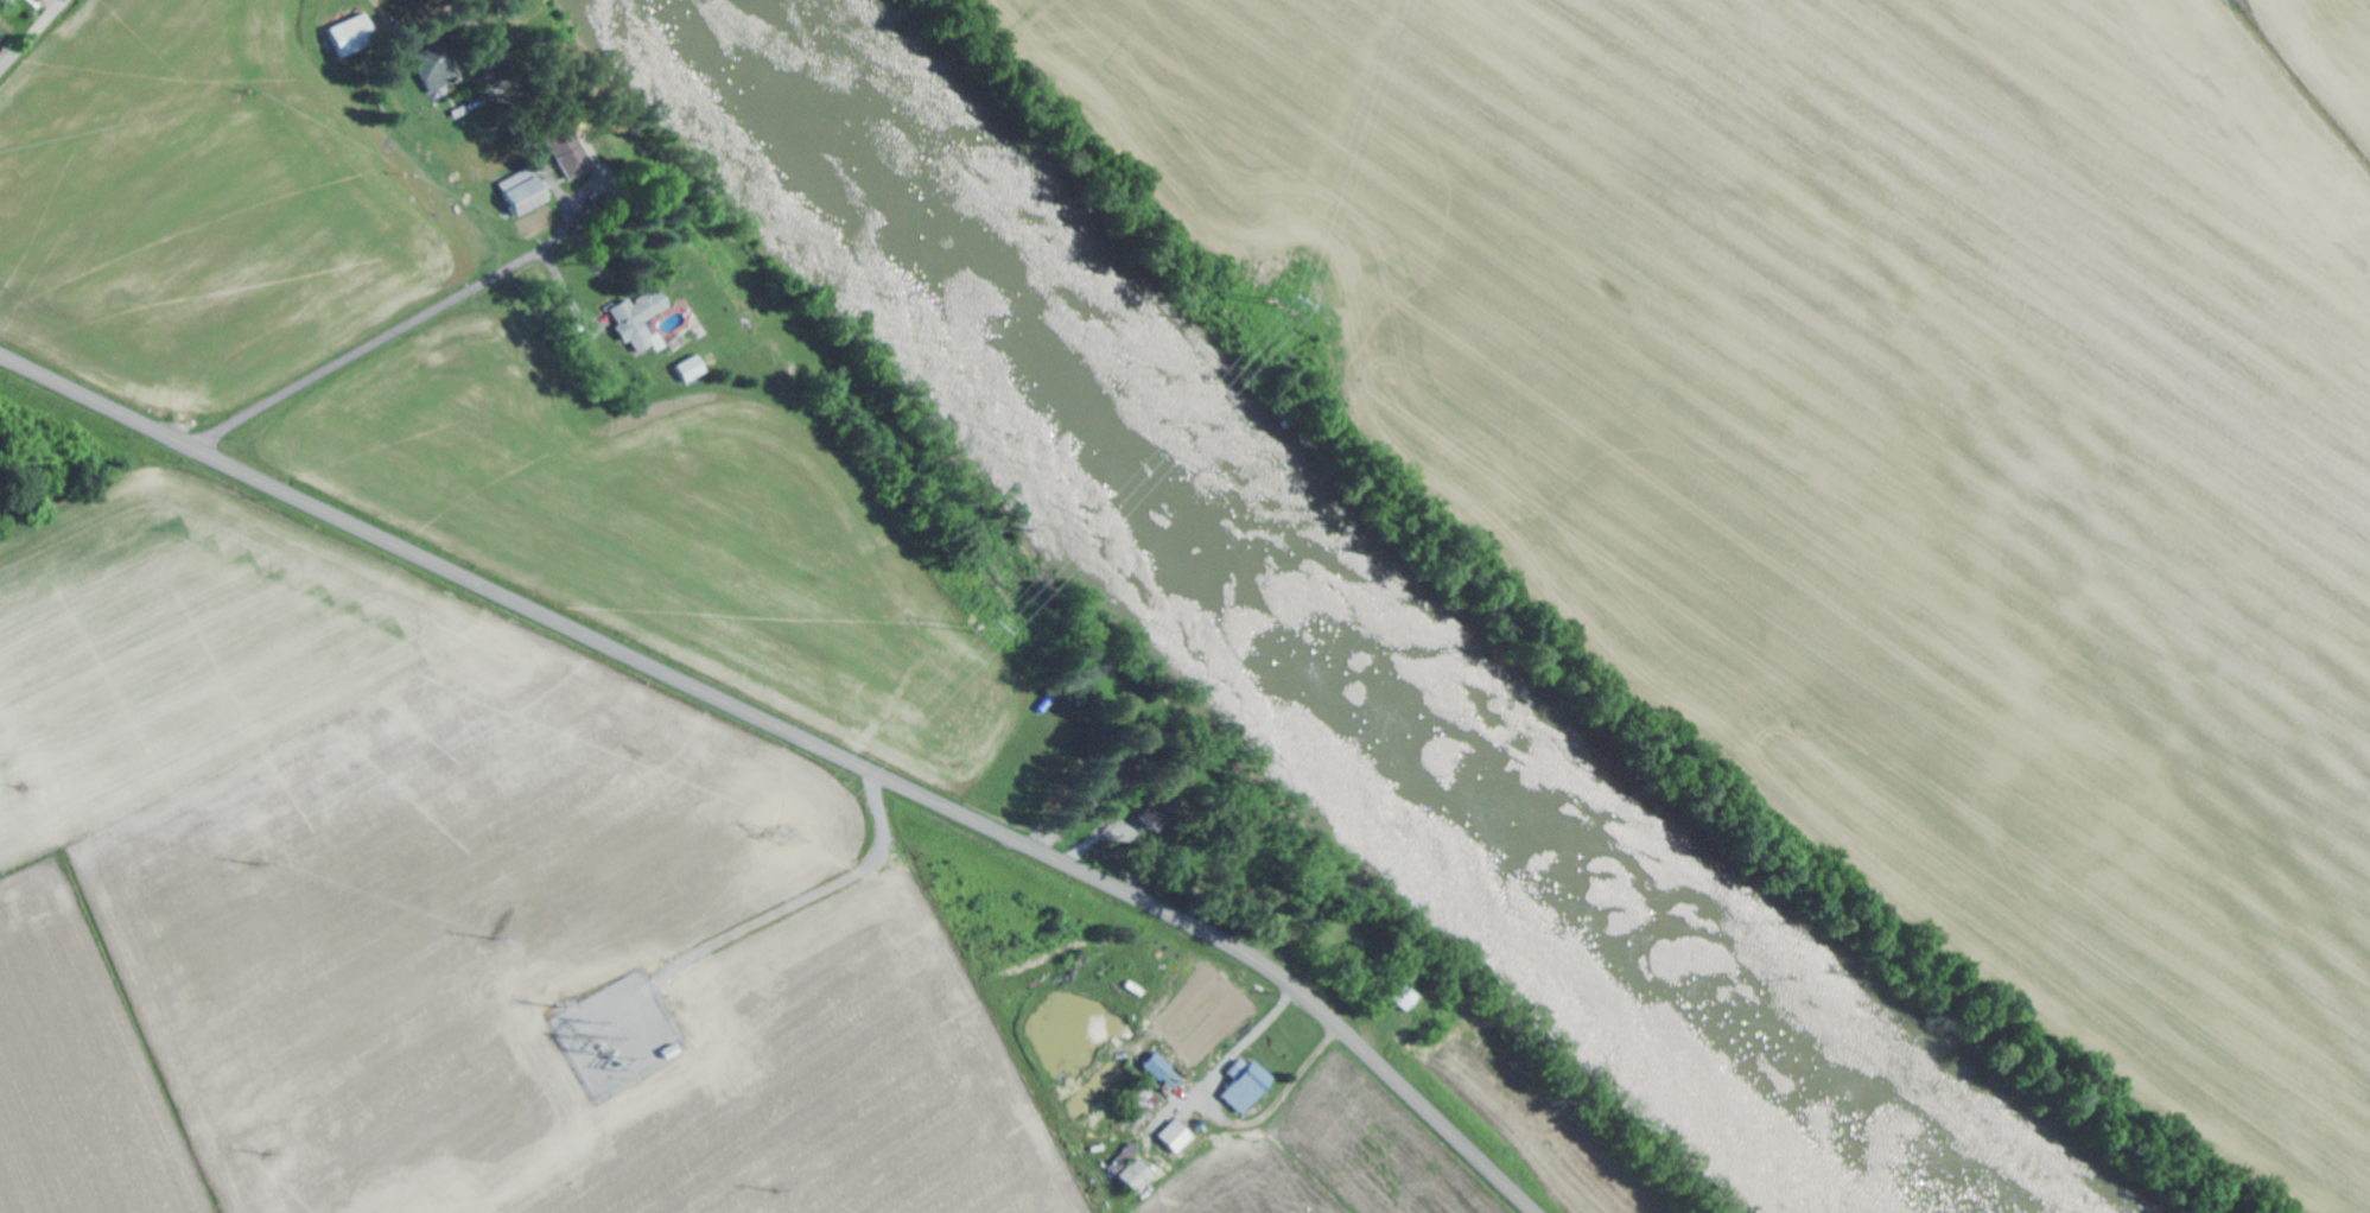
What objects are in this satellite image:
building: (14, 1)
road: (31, 33)
building: (355, 34)
building: (439, 65)
road: (528, 141)
building: (571, 151)
building: (526, 191)
building: (642, 319)
road: (376, 337)
building: (694, 368)
road: (609, 510)
road: (779, 602)
river: (1303, 624)
road: (798, 736)
building: (1162, 811)
building: (1406, 997)
building: (1165, 1072)
building: (1250, 1085)
building: (1151, 1099)
building: (1178, 1136)
building: (1135, 1169)

